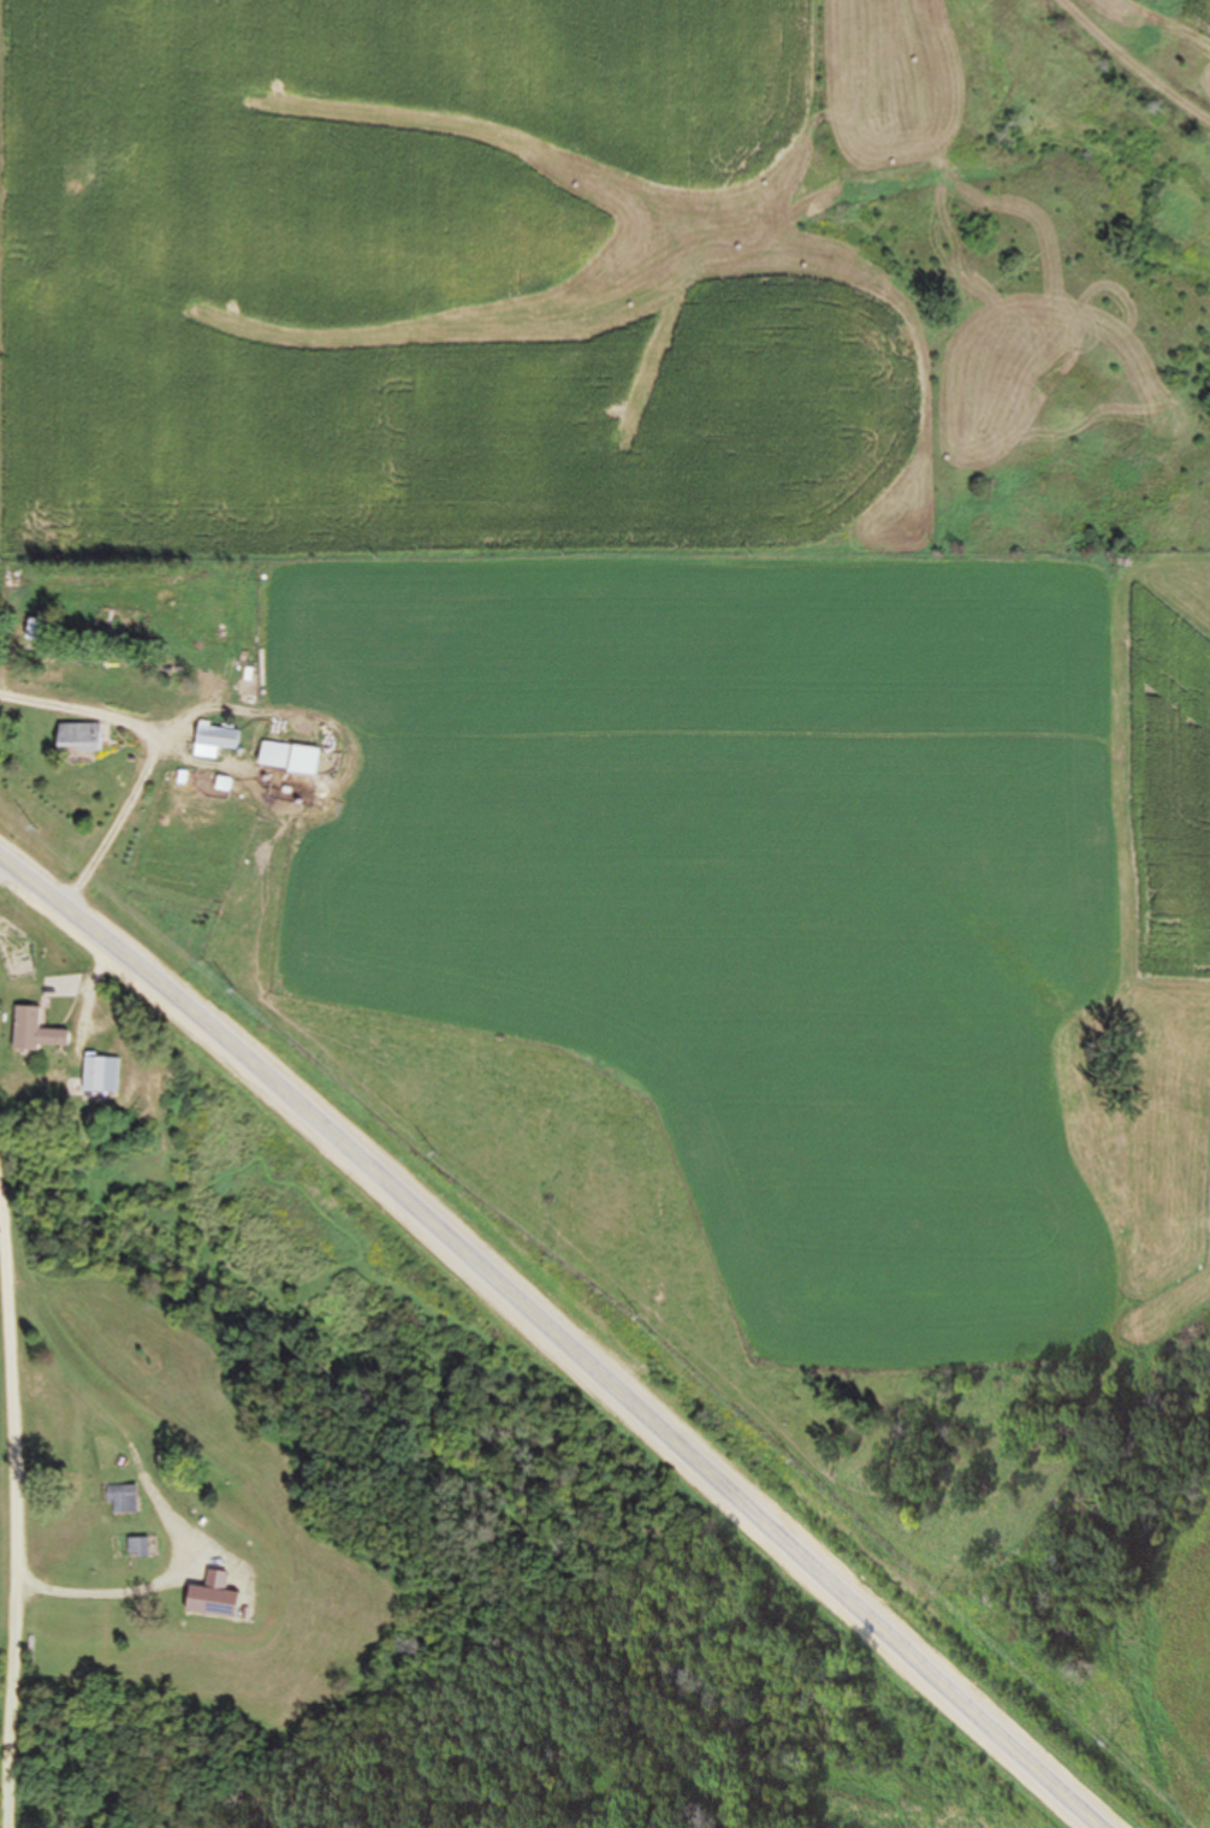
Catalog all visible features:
road: (1129, 64)
building: (37, 631)
building: (79, 738)
building: (214, 743)
road: (153, 752)
building: (275, 757)
building: (37, 1034)
building: (102, 1076)
road: (556, 1338)
road: (60, 1385)
building: (119, 1501)
road: (14, 1583)
building: (214, 1599)

